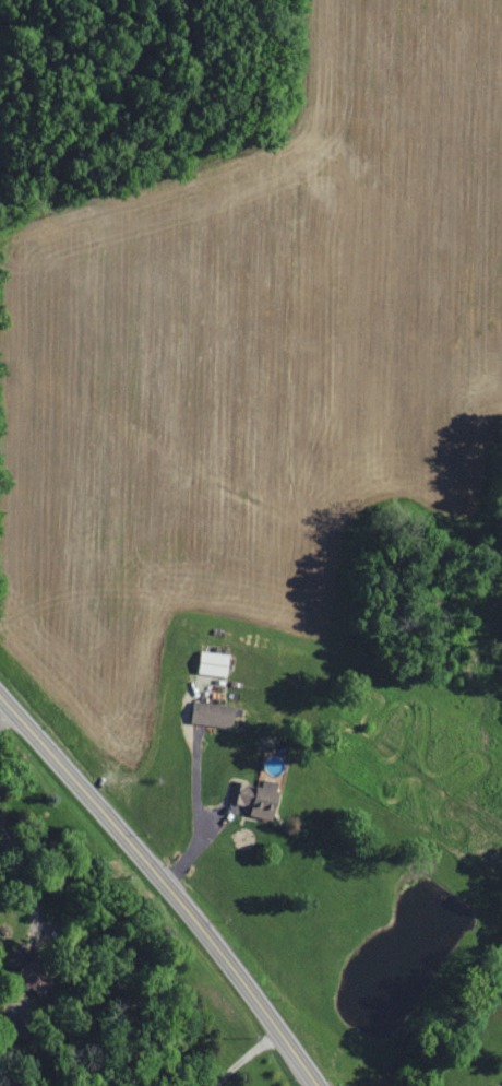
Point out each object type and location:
building: (214, 663)
building: (213, 715)
building: (260, 799)
road: (198, 810)
road: (168, 884)
road: (238, 1052)

